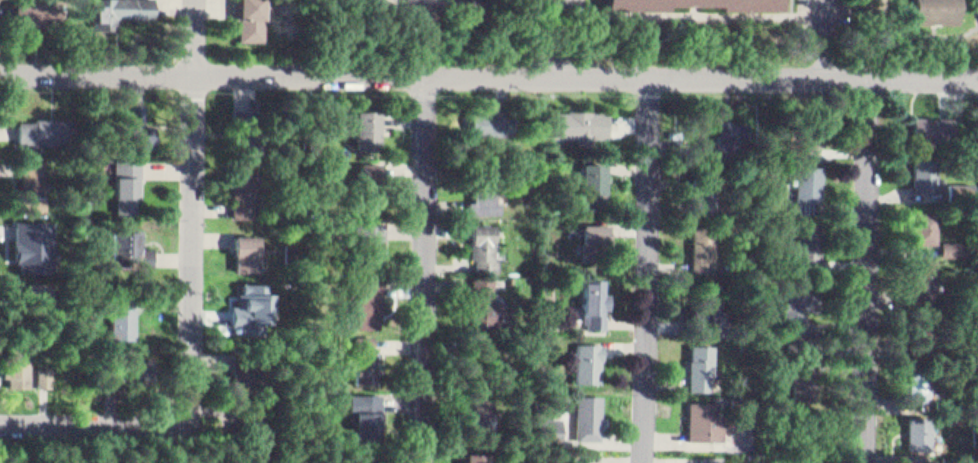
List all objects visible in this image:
building: (381, 0)
building: (423, 6)
road: (791, 7)
building: (115, 9)
building: (639, 9)
building: (31, 10)
building: (938, 11)
road: (735, 13)
building: (251, 15)
road: (930, 32)
parking lot: (563, 36)
parking lot: (827, 36)
road: (562, 37)
road: (827, 38)
road: (699, 45)
road: (488, 74)
building: (477, 117)
building: (572, 118)
building: (362, 122)
building: (135, 123)
building: (46, 124)
building: (241, 124)
building: (729, 124)
building: (929, 128)
building: (811, 129)
building: (71, 160)
building: (927, 169)
building: (32, 172)
building: (587, 177)
building: (810, 177)
building: (126, 178)
building: (698, 182)
building: (363, 184)
building: (243, 186)
road: (196, 190)
building: (90, 194)
building: (476, 200)
building: (921, 223)
building: (367, 231)
building: (33, 239)
building: (811, 239)
building: (589, 242)
building: (702, 242)
building: (124, 243)
building: (246, 246)
building: (475, 246)
building: (955, 248)
road: (426, 268)
road: (648, 269)
road: (869, 270)
building: (920, 275)
building: (705, 288)
building: (36, 293)
building: (364, 297)
building: (484, 298)
building: (594, 302)
building: (796, 305)
building: (251, 306)
building: (121, 312)
building: (930, 337)
building: (363, 355)
building: (20, 357)
building: (589, 361)
building: (246, 364)
building: (130, 366)
building: (703, 367)
building: (918, 369)
building: (45, 372)
building: (801, 372)
building: (923, 389)
building: (477, 404)
building: (363, 409)
building: (589, 418)
building: (706, 421)
road: (108, 425)
building: (919, 427)
building: (243, 437)
road: (119, 444)
building: (475, 455)
building: (714, 458)
building: (812, 461)
building: (359, 462)

